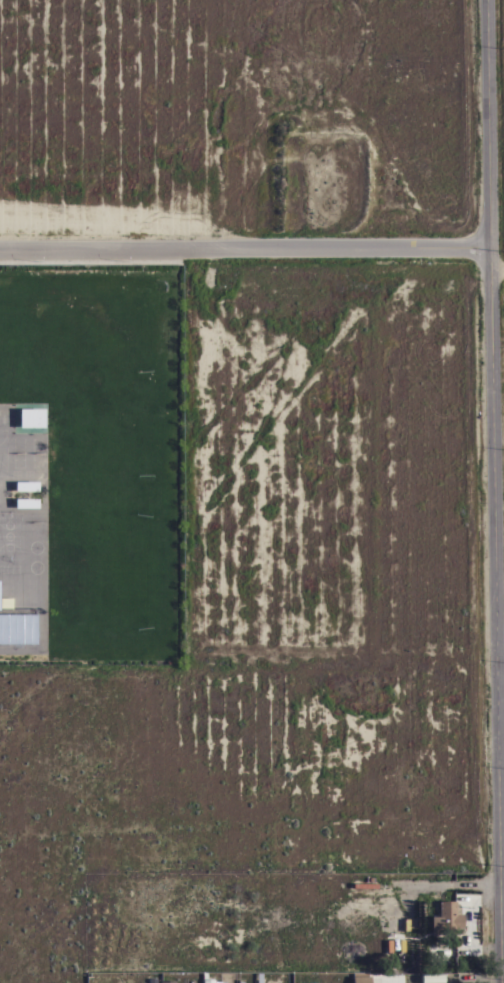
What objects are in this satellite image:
crop: (493, 98)
road: (245, 248)
building: (225, 369)
building: (223, 410)
building: (30, 418)
road: (495, 491)
building: (0, 596)
building: (17, 629)
building: (446, 919)
building: (360, 979)
building: (432, 979)
building: (151, 980)
building: (207, 981)
building: (167, 982)

